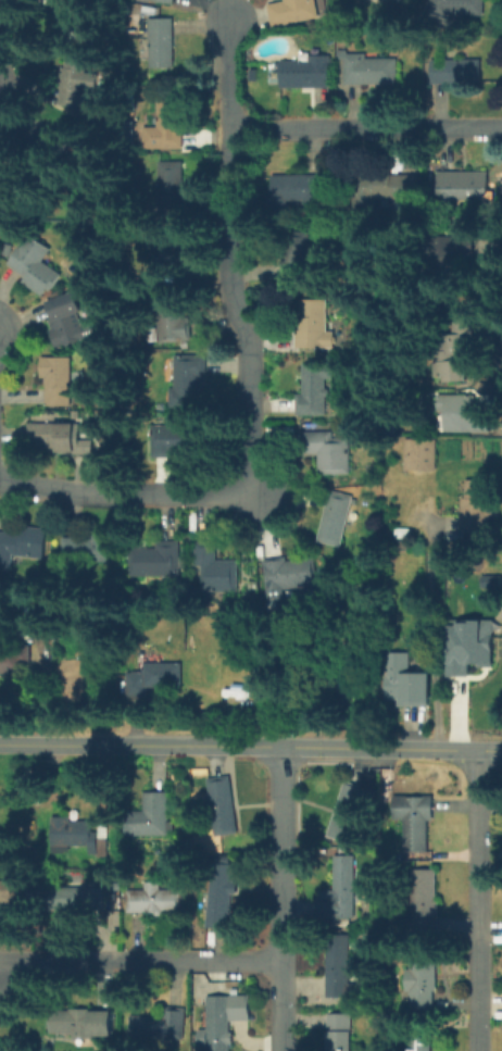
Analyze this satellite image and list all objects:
building: (162, 3)
building: (394, 3)
building: (460, 9)
building: (292, 11)
road: (4, 15)
building: (164, 46)
building: (372, 71)
building: (460, 71)
building: (306, 74)
building: (80, 89)
building: (167, 130)
road: (366, 132)
building: (12, 171)
building: (174, 189)
building: (385, 190)
building: (466, 190)
building: (296, 192)
road: (230, 254)
building: (449, 257)
building: (294, 258)
building: (168, 259)
building: (36, 267)
building: (65, 322)
building: (173, 326)
building: (315, 327)
road: (499, 336)
building: (455, 351)
building: (59, 383)
building: (190, 383)
building: (316, 390)
building: (463, 414)
building: (57, 437)
building: (178, 441)
building: (329, 453)
building: (423, 456)
road: (128, 497)
building: (475, 509)
building: (334, 522)
building: (23, 545)
building: (87, 548)
building: (154, 562)
building: (216, 570)
building: (286, 577)
building: (490, 580)
road: (434, 616)
building: (469, 646)
building: (14, 660)
building: (153, 679)
building: (405, 681)
building: (343, 686)
road: (91, 745)
road: (283, 748)
road: (441, 751)
building: (224, 808)
building: (346, 815)
building: (153, 816)
building: (417, 822)
building: (73, 833)
building: (9, 890)
building: (344, 890)
building: (71, 898)
building: (221, 899)
road: (285, 899)
building: (155, 900)
road: (480, 901)
building: (424, 905)
road: (141, 962)
building: (340, 967)
building: (422, 986)
building: (226, 1019)
building: (85, 1026)
building: (159, 1026)
building: (340, 1033)
building: (419, 1048)

